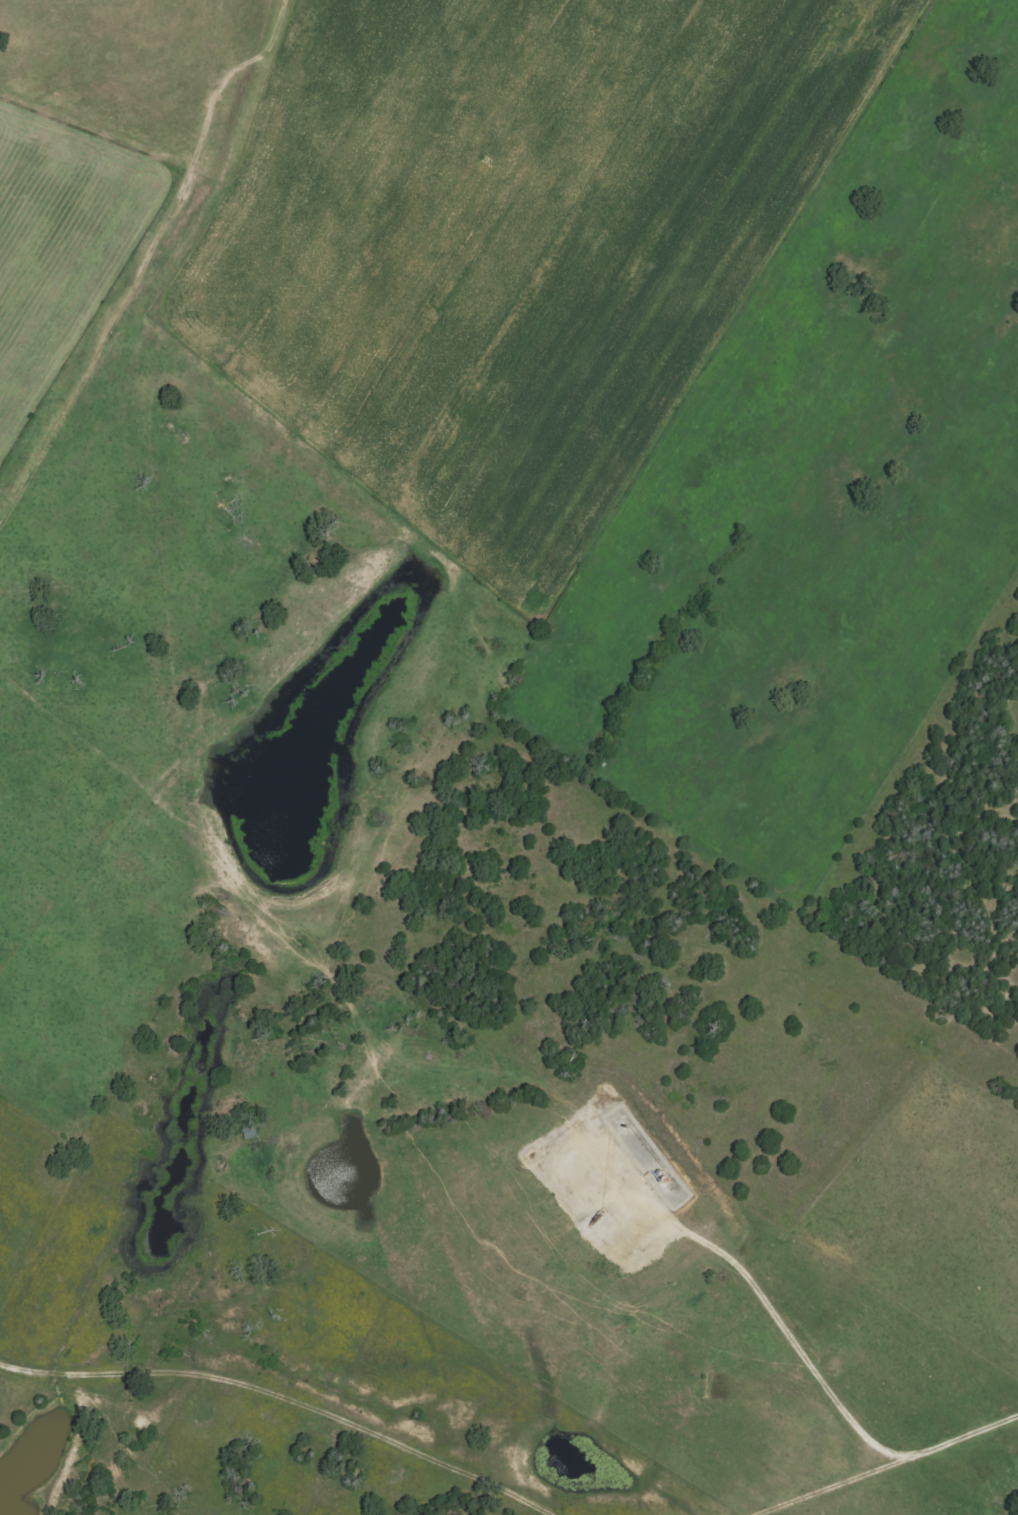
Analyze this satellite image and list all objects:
road: (156, 262)
petroleum well: (595, 1216)
road: (948, 1436)

